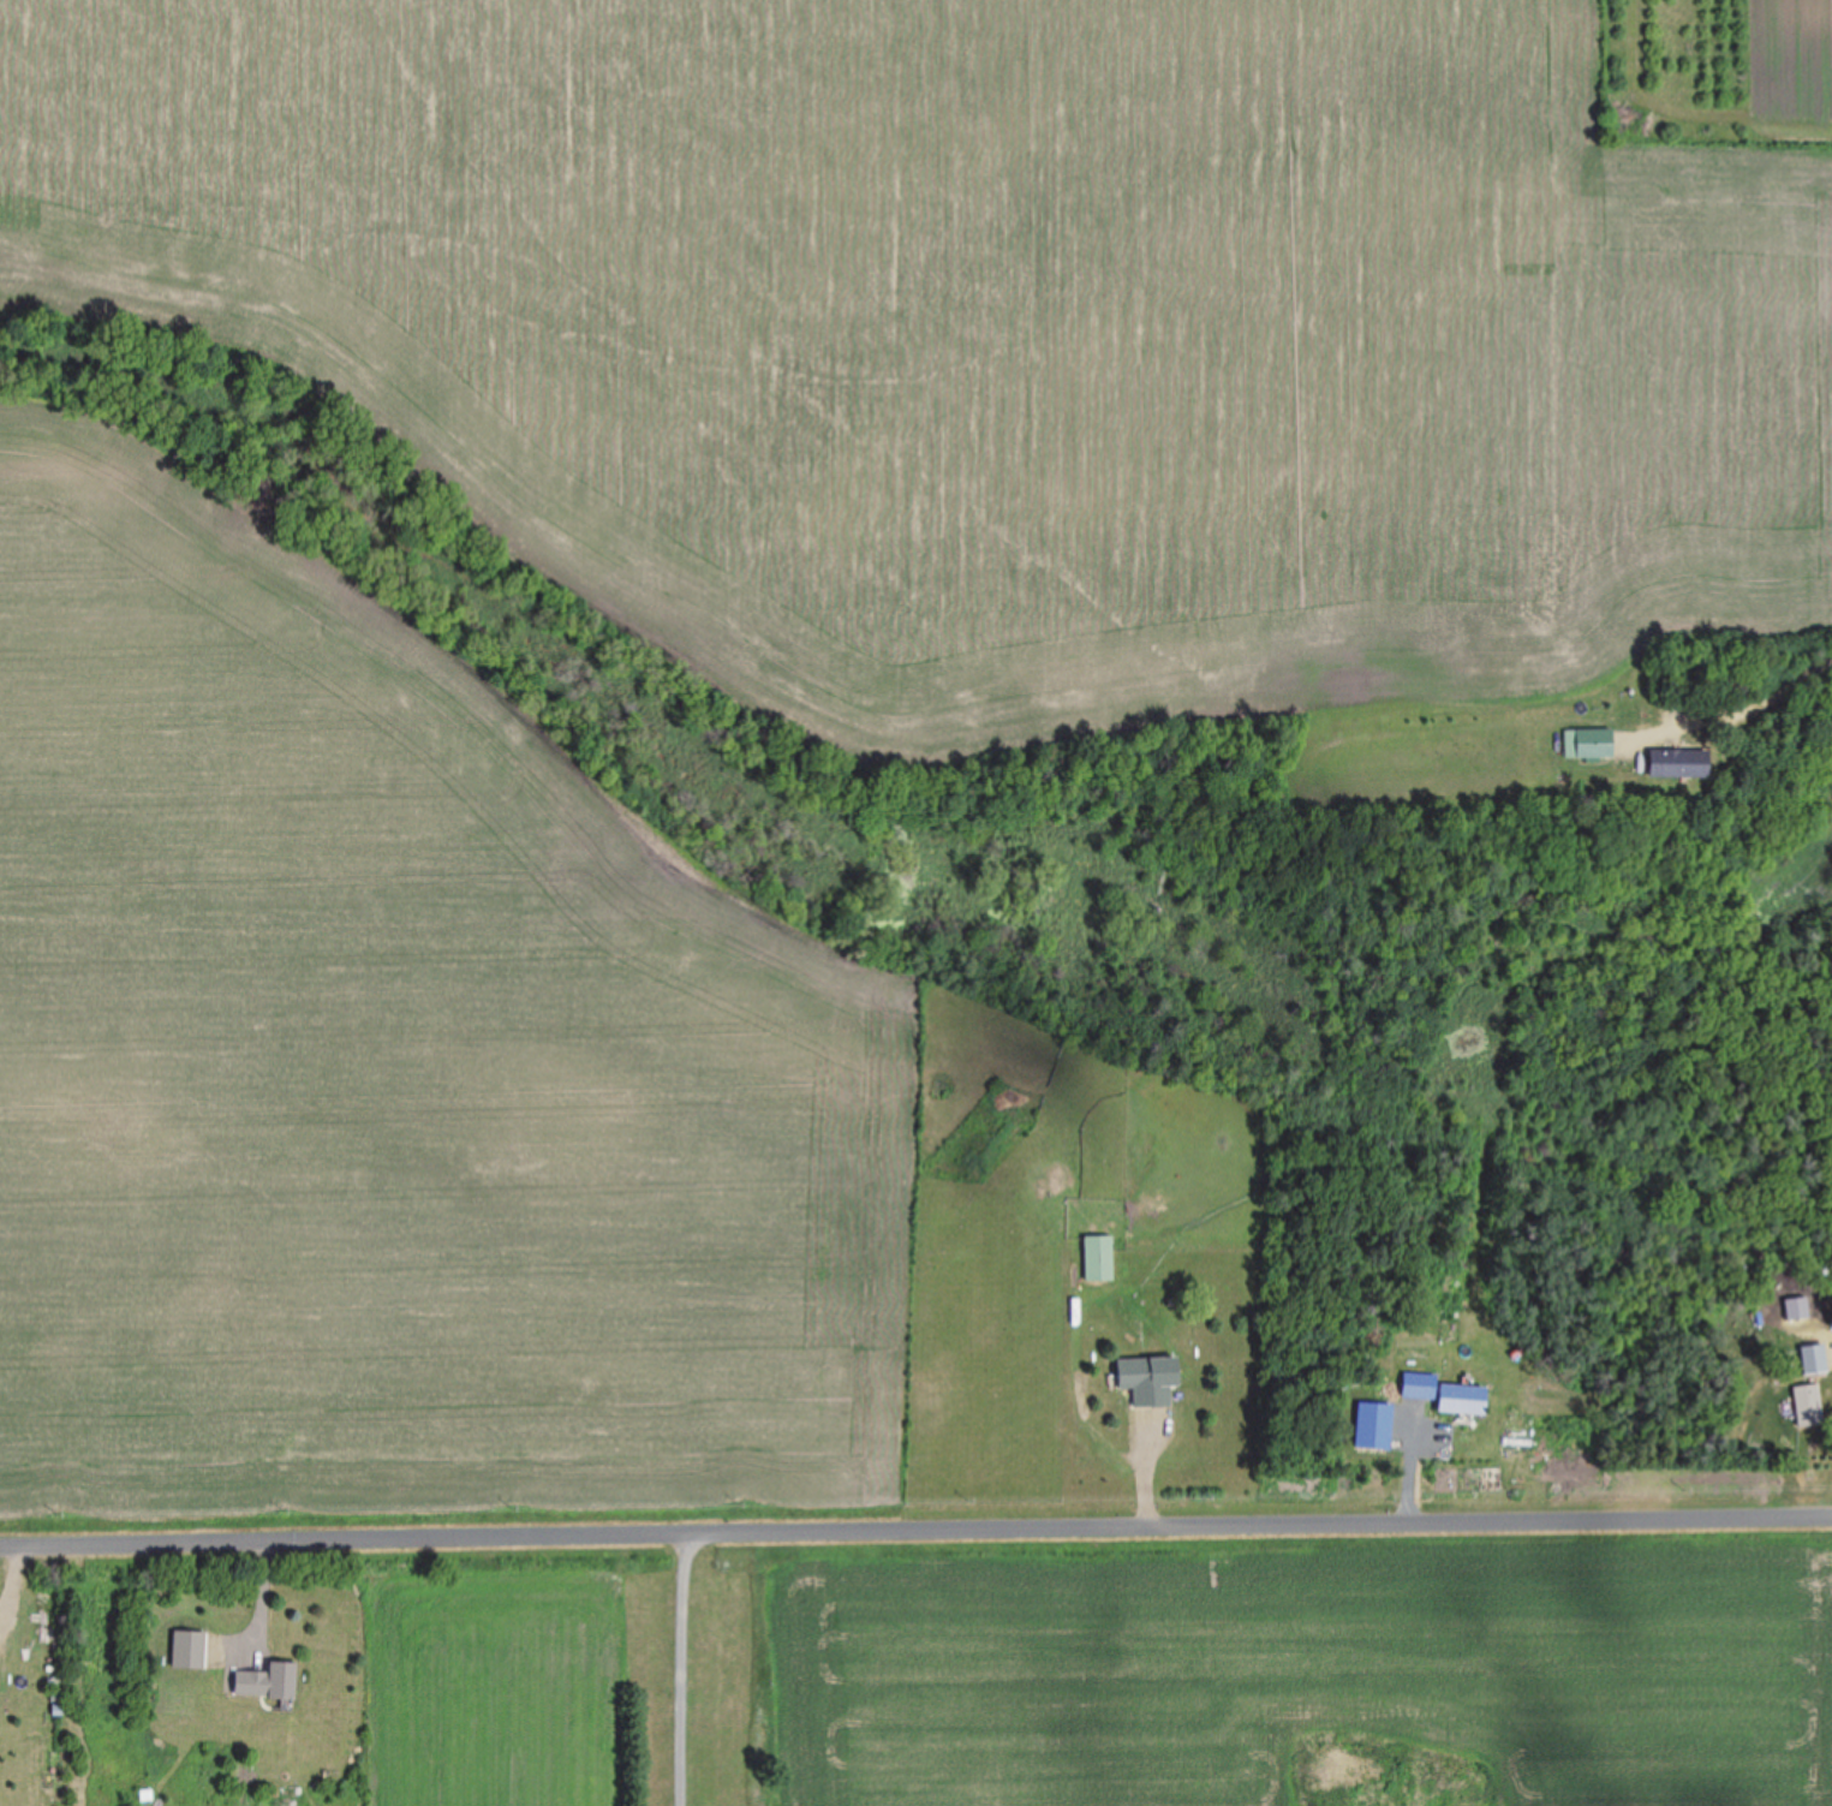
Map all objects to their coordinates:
crop: (724, 639)
building: (1592, 741)
building: (1676, 762)
building: (1096, 1256)
building: (1812, 1357)
building: (1146, 1378)
building: (1414, 1383)
building: (1458, 1397)
building: (1806, 1403)
road: (915, 1522)
road: (700, 1665)
building: (265, 1680)

